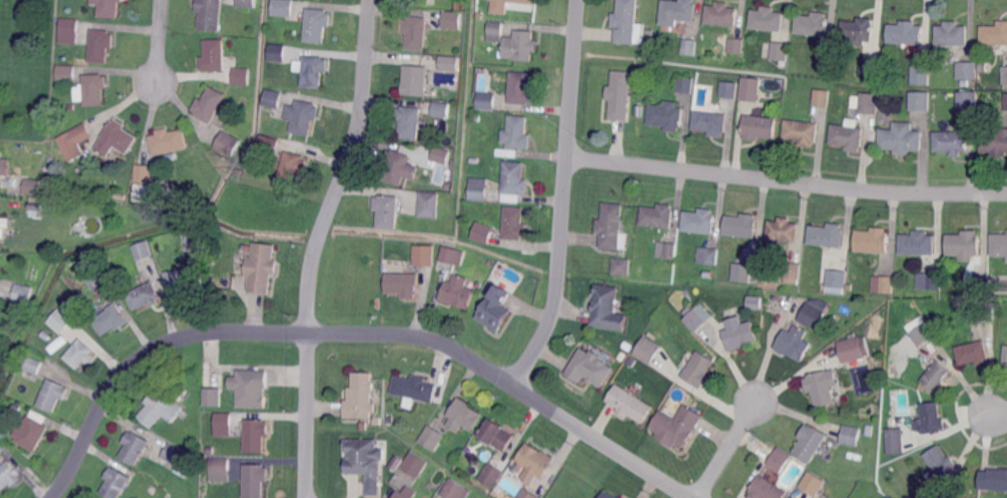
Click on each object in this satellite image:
building: (247, 2)
building: (507, 5)
building: (456, 6)
building: (108, 7)
building: (282, 8)
building: (676, 12)
building: (210, 13)
building: (721, 14)
building: (767, 18)
building: (453, 19)
building: (625, 21)
building: (318, 24)
building: (812, 24)
building: (68, 31)
building: (496, 31)
building: (857, 31)
building: (416, 32)
building: (906, 32)
building: (995, 33)
building: (952, 34)
road: (159, 41)
building: (101, 45)
building: (521, 45)
building: (736, 45)
building: (689, 46)
building: (780, 51)
building: (278, 52)
building: (214, 55)
building: (826, 55)
building: (449, 64)
building: (869, 70)
building: (968, 70)
building: (314, 71)
building: (65, 72)
building: (921, 74)
building: (242, 75)
building: (1005, 76)
building: (415, 80)
building: (686, 84)
building: (521, 88)
building: (95, 89)
building: (729, 89)
building: (750, 89)
building: (620, 95)
building: (822, 97)
building: (273, 98)
building: (486, 100)
building: (920, 100)
building: (968, 100)
building: (1006, 101)
building: (869, 103)
building: (208, 105)
building: (455, 109)
building: (441, 110)
building: (667, 115)
building: (303, 116)
building: (478, 118)
building: (409, 121)
building: (710, 122)
building: (759, 127)
building: (802, 132)
building: (516, 136)
building: (848, 136)
building: (116, 138)
building: (900, 139)
building: (74, 140)
building: (169, 141)
building: (952, 141)
building: (228, 143)
building: (995, 143)
building: (270, 145)
building: (440, 156)
building: (246, 160)
building: (4, 165)
building: (396, 166)
building: (292, 168)
building: (144, 173)
building: (514, 181)
road: (786, 181)
building: (30, 184)
building: (449, 186)
building: (479, 188)
building: (118, 193)
building: (153, 193)
road: (564, 197)
building: (182, 199)
building: (429, 205)
building: (36, 207)
building: (387, 210)
building: (658, 216)
building: (700, 221)
building: (515, 223)
building: (742, 225)
building: (613, 226)
building: (783, 229)
building: (483, 232)
building: (1, 233)
building: (826, 235)
building: (195, 237)
building: (871, 237)
building: (918, 242)
building: (965, 244)
building: (1000, 244)
road: (317, 245)
building: (667, 249)
building: (139, 251)
building: (423, 256)
building: (713, 256)
building: (451, 257)
building: (622, 266)
building: (261, 267)
building: (793, 271)
building: (743, 272)
building: (92, 275)
building: (183, 280)
building: (835, 281)
building: (885, 281)
building: (930, 281)
building: (402, 285)
building: (980, 286)
building: (850, 288)
building: (23, 293)
building: (457, 293)
building: (144, 296)
building: (491, 308)
building: (604, 309)
building: (983, 311)
building: (697, 316)
building: (812, 316)
building: (110, 319)
building: (60, 320)
building: (740, 332)
road: (352, 333)
building: (924, 334)
building: (796, 342)
building: (853, 349)
building: (649, 350)
building: (973, 352)
building: (80, 353)
building: (1006, 355)
building: (33, 365)
building: (589, 368)
building: (699, 369)
building: (937, 375)
building: (253, 388)
building: (415, 388)
building: (822, 388)
building: (178, 389)
building: (53, 394)
building: (214, 397)
building: (360, 398)
building: (630, 404)
building: (159, 408)
building: (23, 409)
building: (464, 415)
road: (998, 415)
building: (933, 417)
building: (390, 420)
building: (378, 421)
building: (223, 423)
building: (677, 427)
building: (870, 431)
building: (31, 433)
building: (255, 434)
building: (497, 434)
building: (852, 435)
building: (432, 437)
building: (896, 440)
building: (811, 442)
building: (1, 445)
building: (134, 447)
building: (211, 450)
road: (727, 450)
building: (403, 453)
building: (176, 454)
building: (360, 458)
building: (779, 460)
building: (535, 462)
building: (941, 462)
building: (416, 465)
building: (221, 468)
building: (9, 475)
building: (492, 475)
building: (994, 478)
building: (256, 479)
building: (116, 482)
building: (812, 485)
building: (457, 489)
building: (768, 489)
building: (407, 493)
building: (161, 494)
building: (529, 494)
building: (922, 494)
building: (608, 495)
building: (622, 497)

